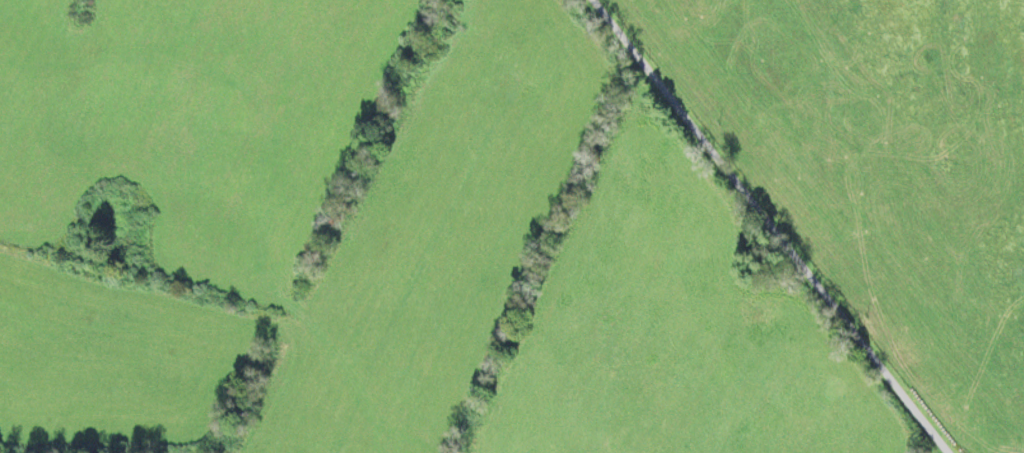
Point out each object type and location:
road: (751, 201)
road: (926, 428)

